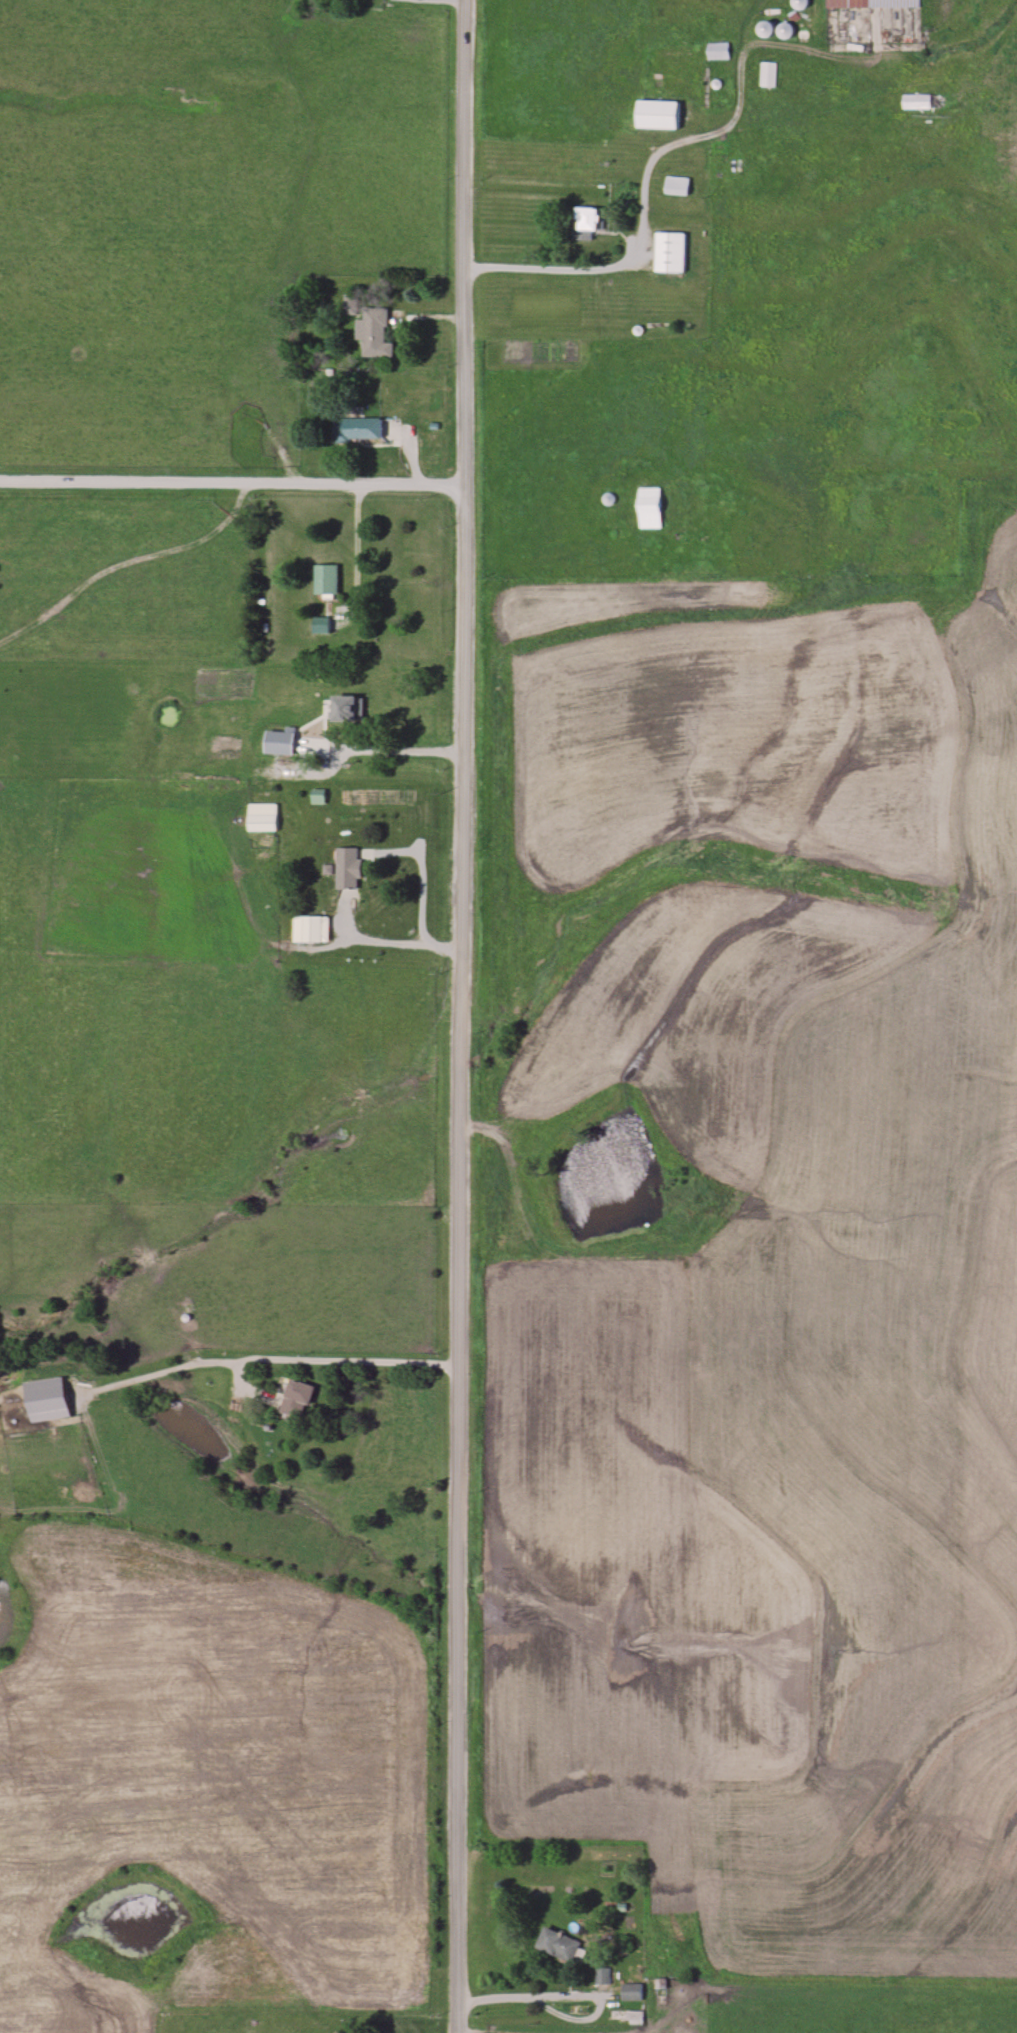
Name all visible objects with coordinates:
building: (880, 3)
building: (719, 51)
building: (769, 75)
building: (658, 115)
building: (586, 219)
building: (670, 253)
road: (567, 273)
building: (374, 333)
building: (357, 428)
road: (232, 482)
building: (649, 508)
road: (355, 544)
building: (325, 581)
road: (167, 618)
road: (161, 674)
building: (344, 709)
road: (392, 754)
building: (261, 823)
building: (346, 869)
road: (421, 890)
building: (311, 929)
road: (462, 1016)
road: (326, 1361)
road: (155, 1371)
building: (296, 1400)
crop: (874, 1437)
crop: (584, 1533)
crop: (214, 1779)
building: (558, 1945)
building: (631, 1993)
road: (497, 1998)
road: (569, 1998)
building: (625, 2016)

